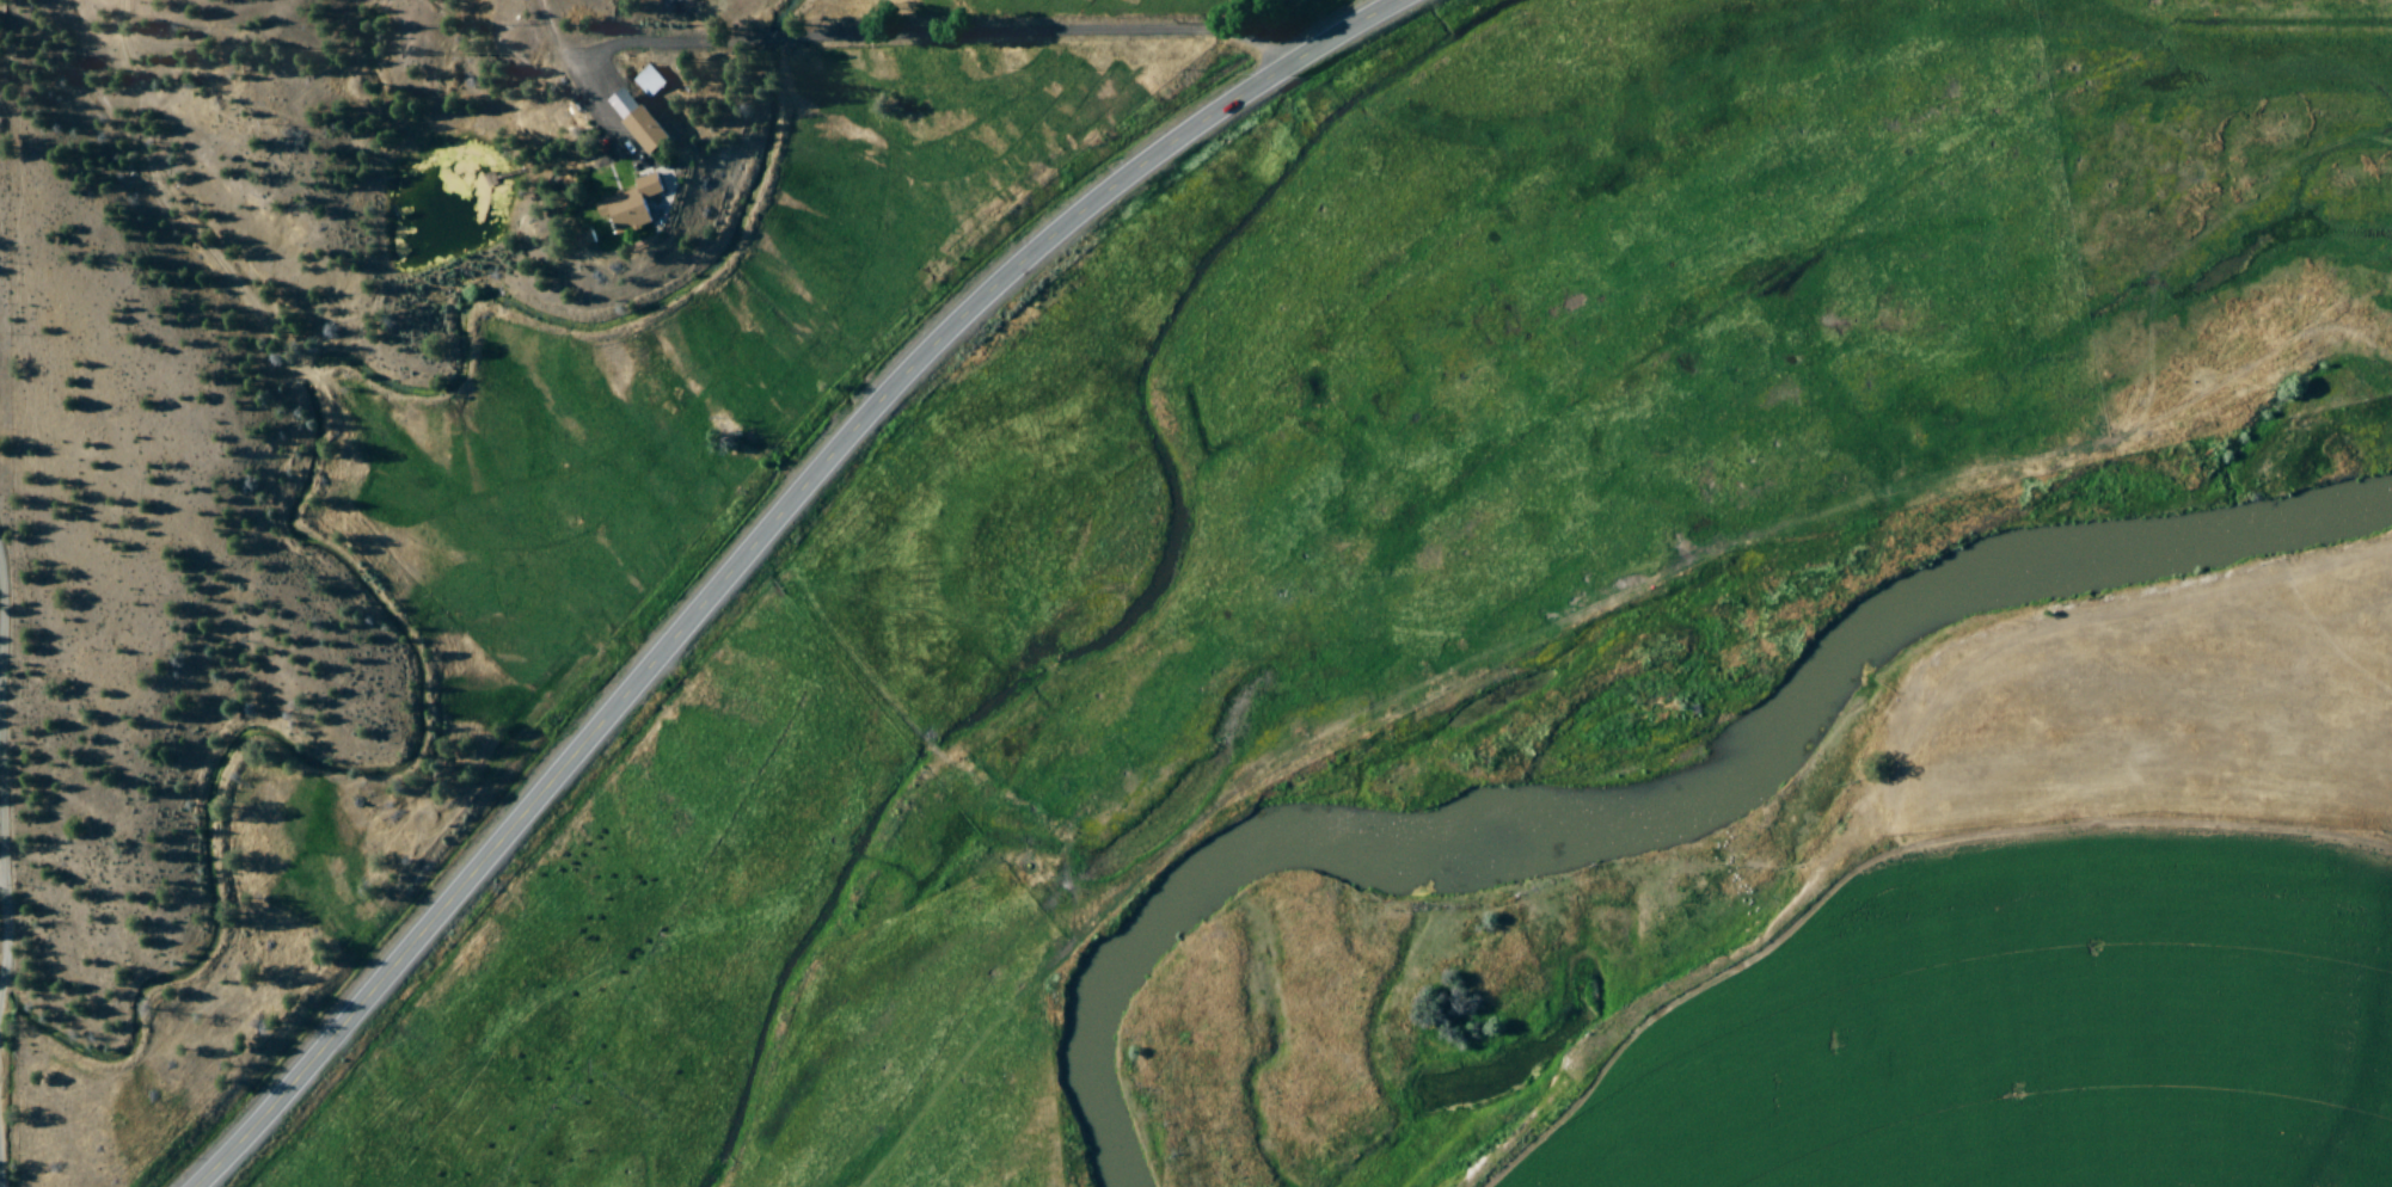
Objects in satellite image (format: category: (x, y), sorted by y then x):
road: (936, 36)
building: (649, 82)
building: (634, 119)
building: (628, 204)
road: (759, 545)
river: (1621, 724)
road: (6, 854)
road: (4, 880)

